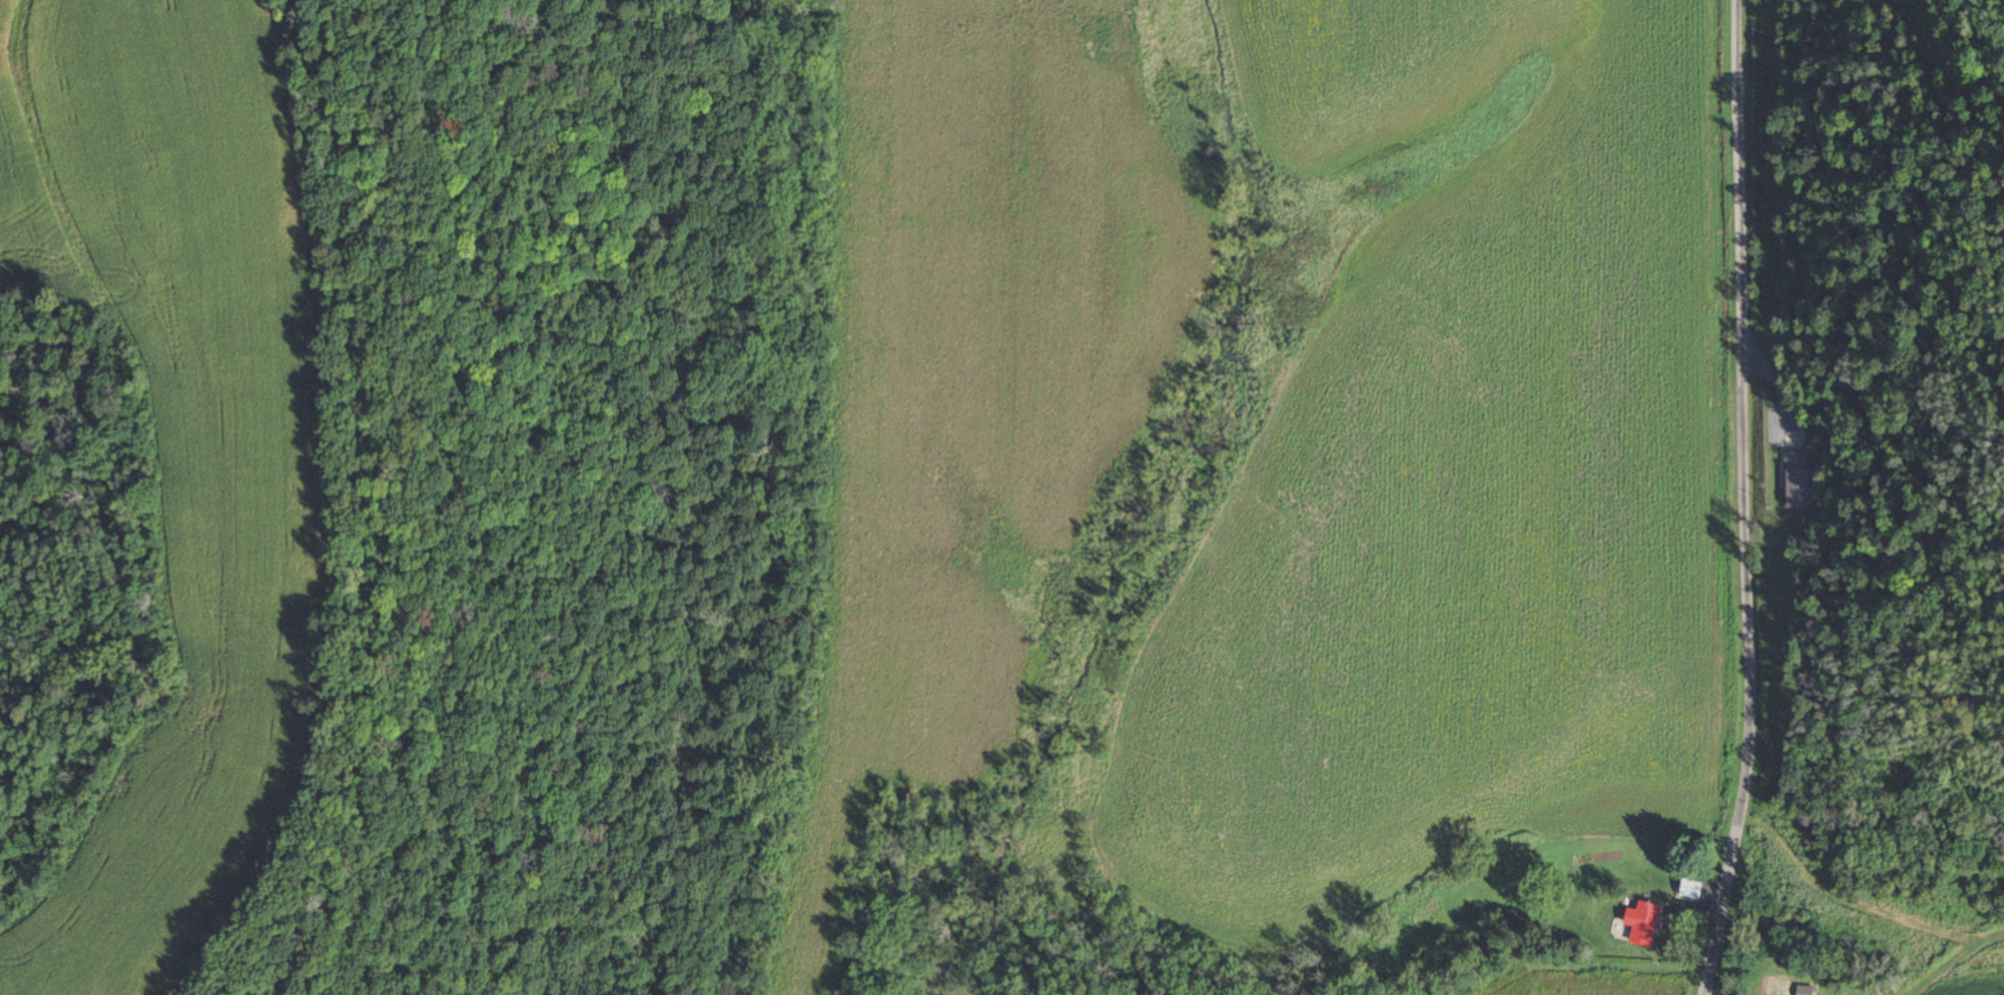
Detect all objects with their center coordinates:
building: (1800, 481)
road: (1750, 499)
building: (1690, 888)
building: (1643, 924)
building: (1804, 990)

